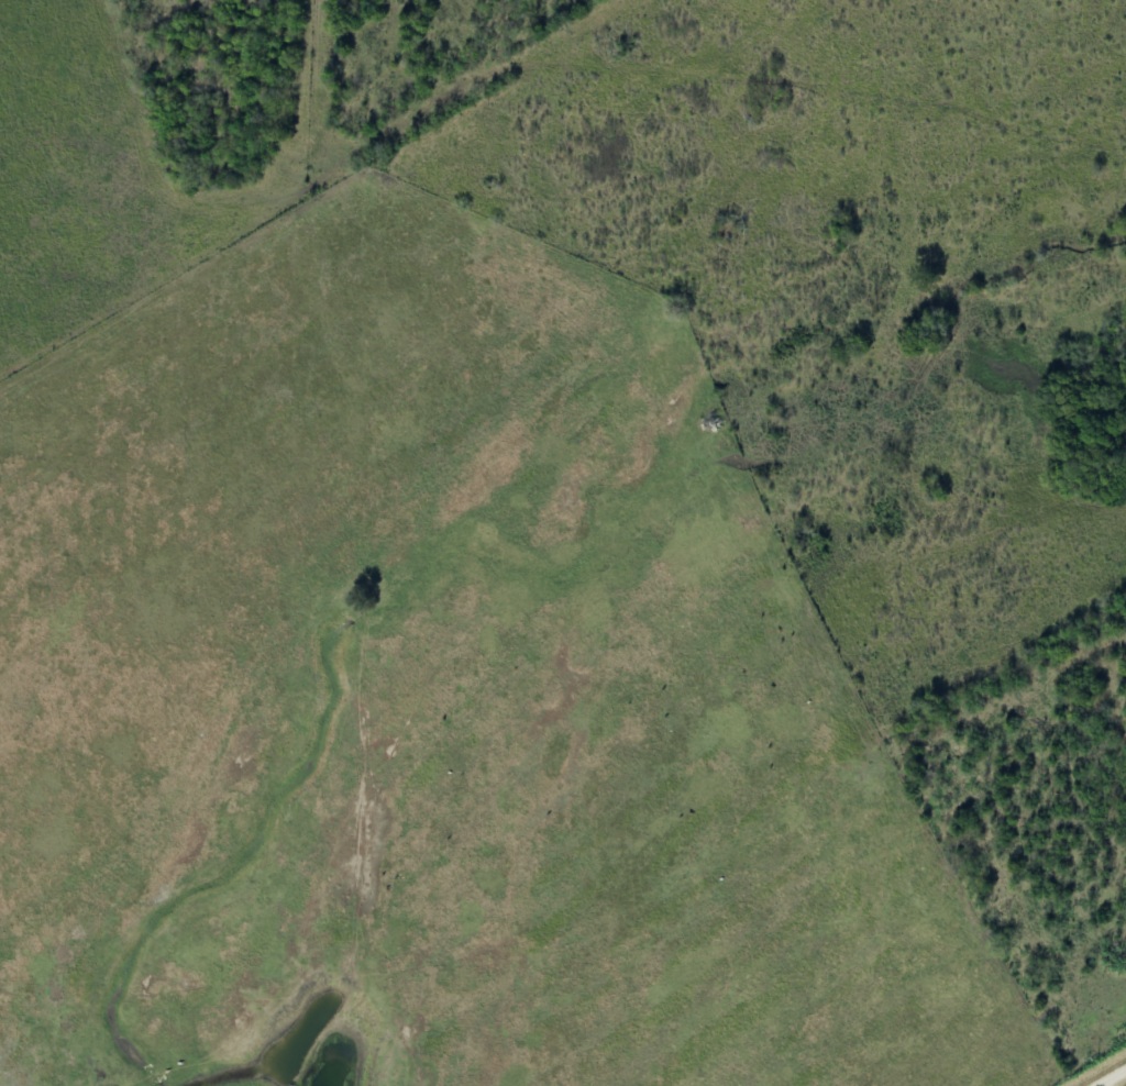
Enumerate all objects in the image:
road: (1114, 1079)

